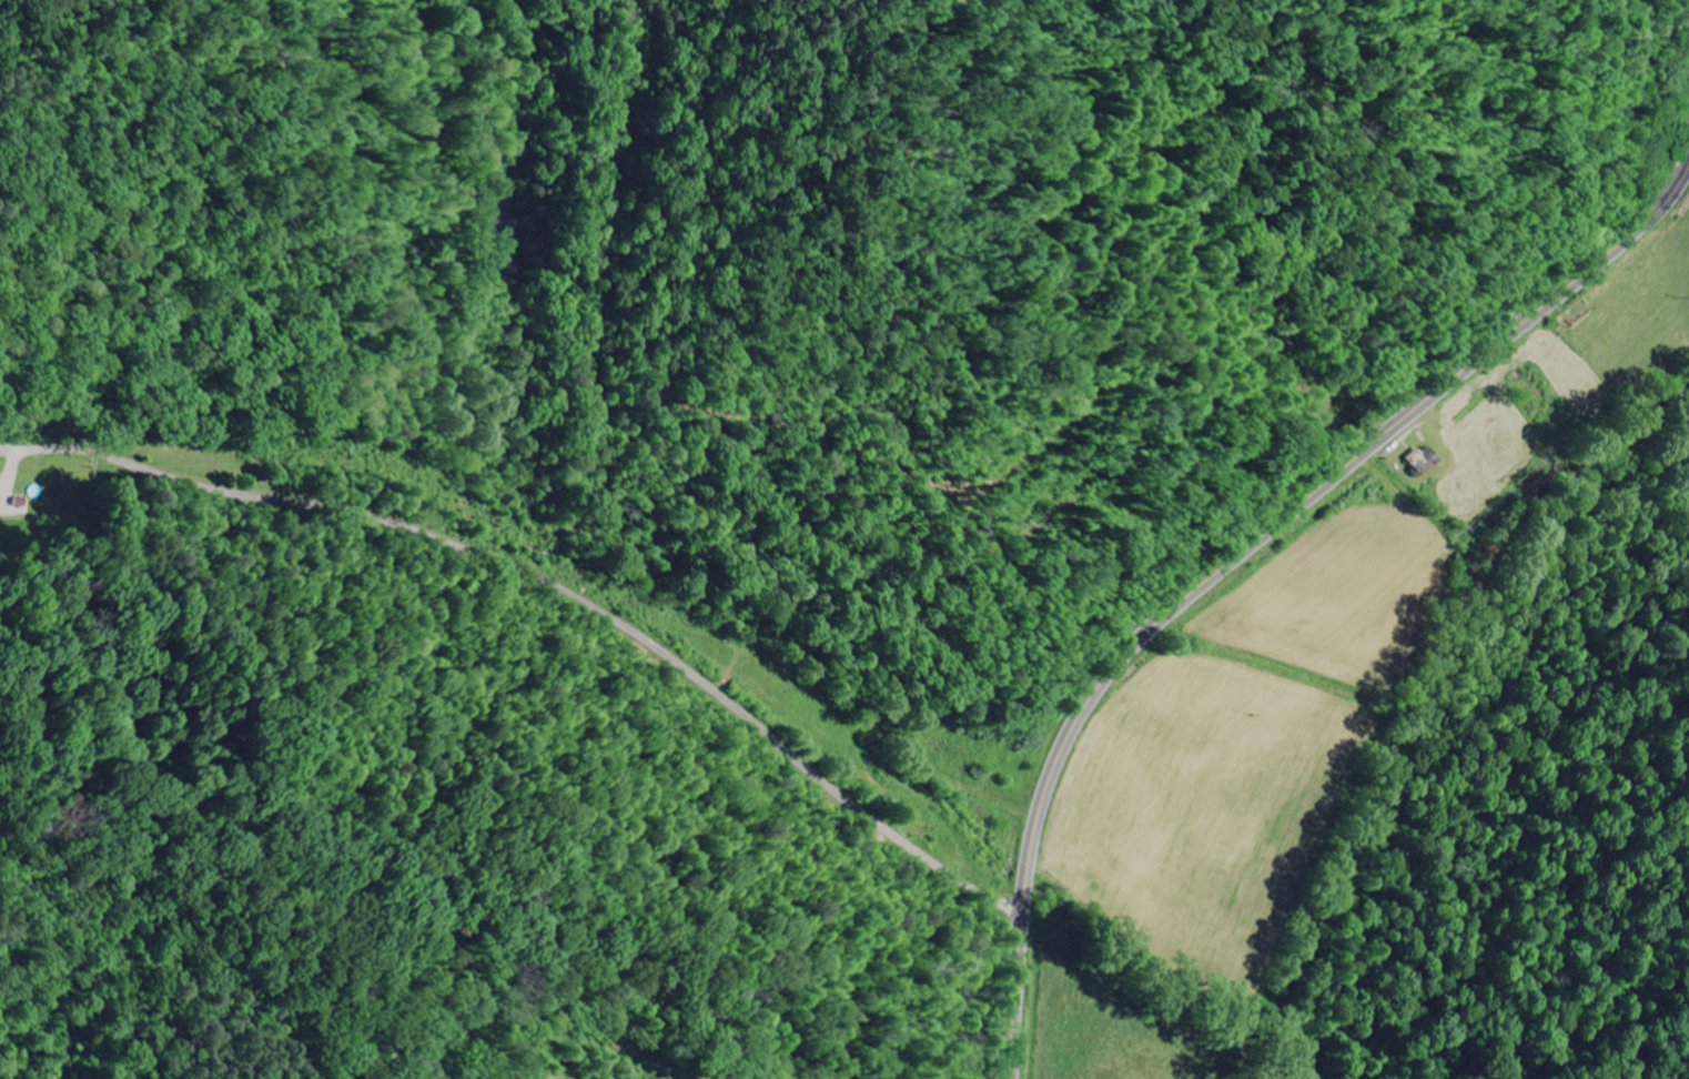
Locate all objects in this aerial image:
road: (1686, 2)
road: (1687, 6)
road: (1244, 555)
road: (552, 596)

